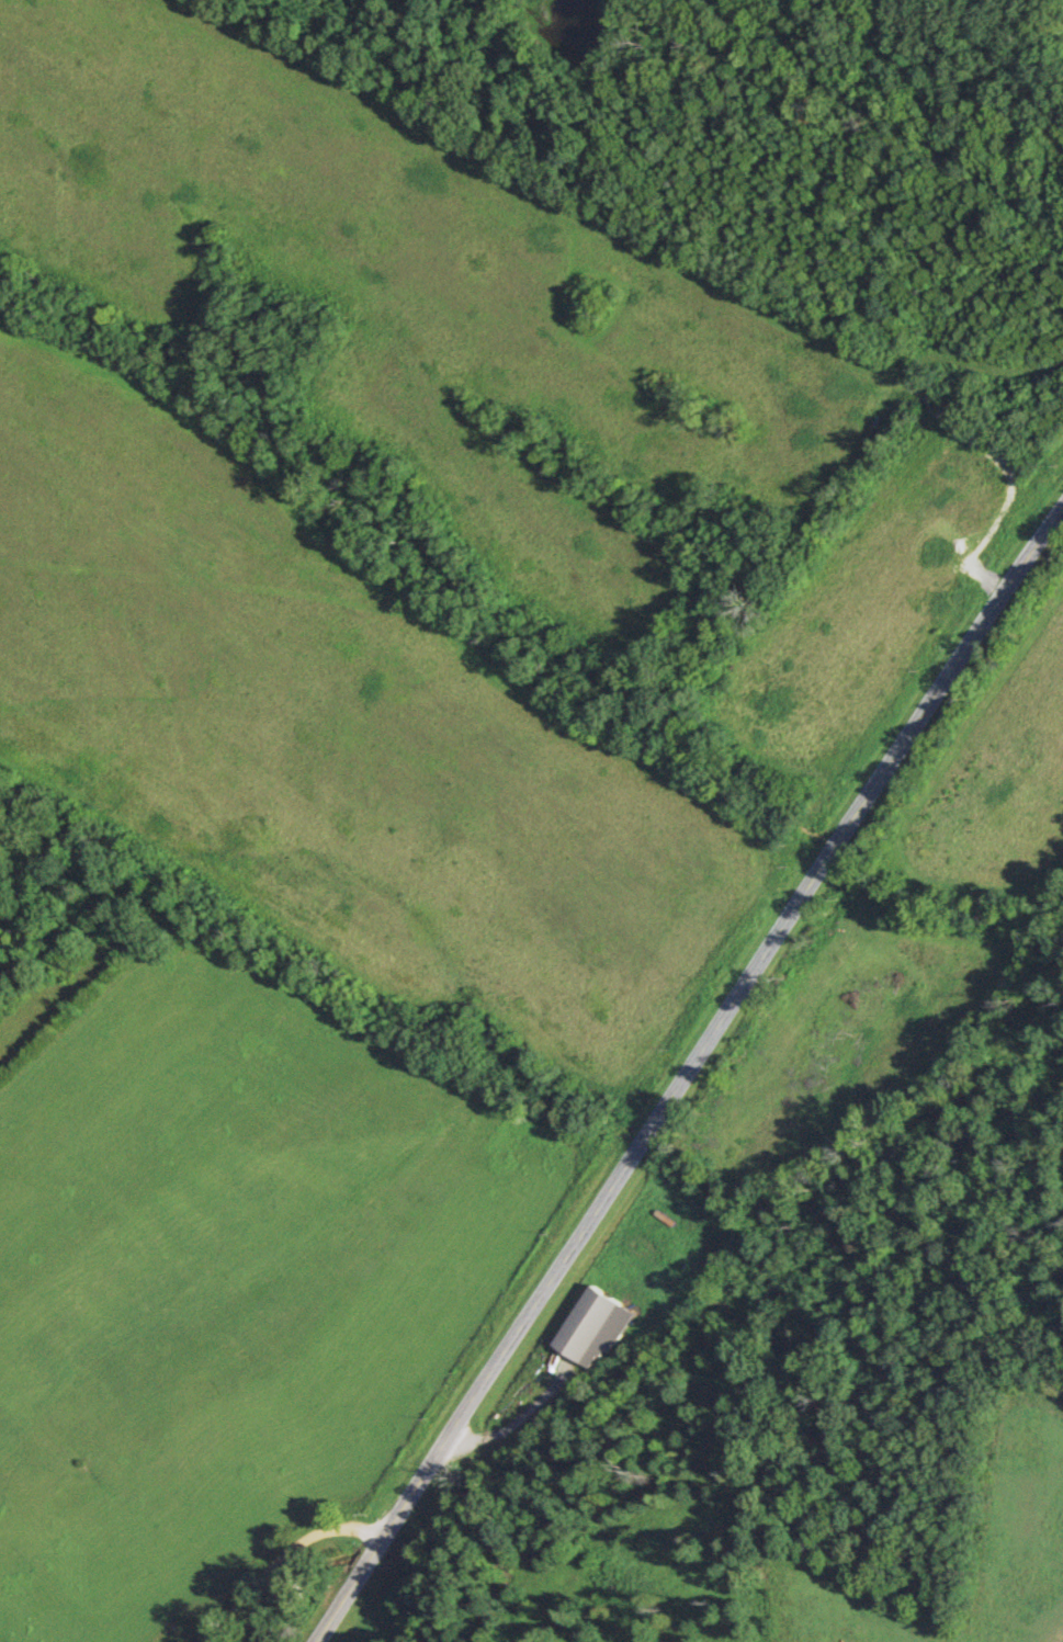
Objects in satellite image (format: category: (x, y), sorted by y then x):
road: (687, 1075)
building: (591, 1325)
road: (278, 1555)

